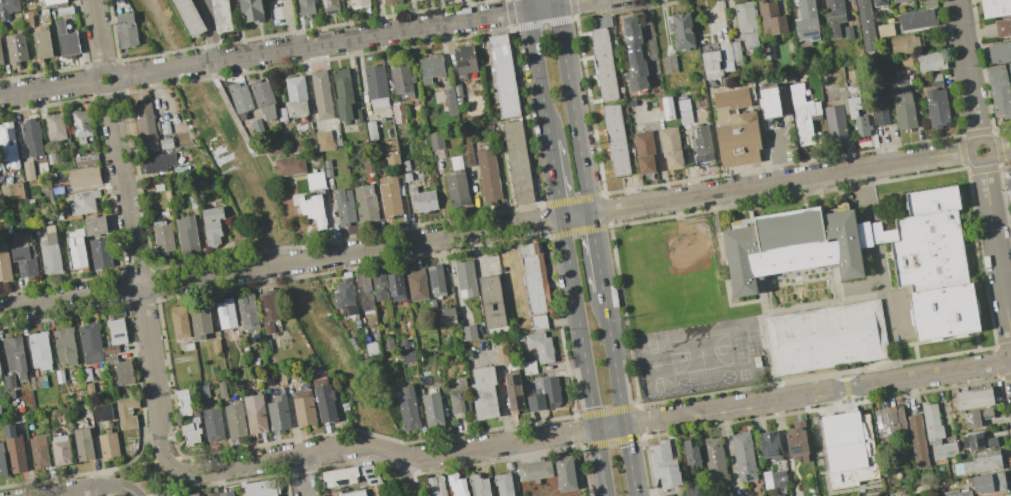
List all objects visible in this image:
building: (440, 0)
building: (926, 0)
building: (52, 1)
rooftop solar panel: (325, 1)
building: (389, 1)
building: (897, 1)
building: (358, 2)
building: (878, 2)
road: (92, 4)
building: (929, 4)
building: (330, 6)
building: (305, 7)
building: (995, 7)
building: (7, 8)
building: (250, 10)
building: (64, 11)
rooftop solar panel: (331, 11)
building: (220, 15)
building: (189, 16)
building: (833, 16)
building: (27, 18)
building: (770, 18)
building: (916, 19)
building: (806, 21)
building: (745, 23)
road: (288, 25)
building: (865, 25)
building: (1002, 27)
building: (126, 29)
road: (212, 30)
building: (680, 30)
rooftop solar panel: (810, 30)
building: (884, 30)
building: (847, 32)
rooftop solar panel: (814, 36)
road: (98, 38)
road: (353, 38)
building: (66, 40)
building: (41, 42)
building: (903, 44)
building: (15, 48)
building: (768, 51)
building: (725, 52)
building: (999, 52)
building: (735, 53)
building: (633, 54)
building: (1, 57)
building: (464, 59)
building: (602, 59)
building: (905, 61)
building: (930, 61)
building: (669, 64)
building: (710, 64)
building: (727, 65)
building: (995, 67)
building: (430, 68)
road: (966, 69)
road: (538, 70)
building: (503, 76)
building: (935, 79)
building: (1010, 81)
building: (402, 82)
building: (375, 85)
road: (114, 86)
road: (47, 89)
building: (457, 90)
building: (999, 93)
building: (343, 94)
building: (321, 95)
building: (295, 96)
building: (262, 97)
building: (239, 98)
building: (458, 100)
building: (901, 100)
building: (449, 101)
building: (768, 102)
building: (631, 103)
road: (572, 106)
building: (936, 107)
building: (667, 108)
building: (684, 109)
building: (880, 109)
building: (281, 114)
building: (398, 114)
building: (802, 114)
building: (357, 115)
building: (856, 116)
building: (835, 123)
building: (80, 125)
building: (256, 126)
building: (54, 127)
building: (146, 127)
building: (735, 128)
building: (371, 130)
rooftop solar panel: (11, 135)
building: (31, 137)
building: (323, 140)
building: (615, 140)
building: (436, 141)
building: (165, 142)
building: (701, 144)
building: (8, 145)
building: (272, 146)
building: (670, 147)
road: (1001, 147)
building: (391, 152)
building: (643, 152)
building: (467, 155)
road: (776, 155)
building: (85, 159)
building: (157, 162)
building: (517, 162)
road: (983, 162)
building: (288, 166)
building: (369, 167)
building: (327, 168)
building: (179, 169)
building: (28, 170)
building: (487, 176)
building: (83, 177)
road: (555, 179)
building: (314, 180)
road: (836, 181)
building: (456, 183)
building: (1008, 184)
building: (57, 190)
building: (11, 191)
building: (388, 196)
road: (864, 196)
building: (423, 200)
building: (30, 201)
building: (83, 201)
building: (365, 202)
building: (343, 207)
building: (1010, 208)
building: (312, 209)
building: (212, 224)
building: (93, 225)
road: (608, 226)
road: (484, 230)
building: (186, 233)
building: (872, 234)
building: (162, 238)
building: (930, 242)
building: (791, 246)
building: (75, 249)
road: (996, 250)
road: (595, 251)
building: (100, 253)
building: (50, 254)
rooftop solar panel: (18, 257)
road: (878, 257)
road: (979, 257)
building: (24, 260)
road: (724, 262)
building: (4, 263)
road: (722, 266)
rooftop solar panel: (22, 267)
building: (822, 269)
road: (1005, 271)
park: (667, 277)
road: (138, 278)
rooftop solar panel: (433, 278)
building: (533, 278)
building: (465, 279)
building: (435, 280)
road: (835, 282)
building: (416, 284)
building: (395, 286)
building: (379, 287)
road: (830, 289)
building: (364, 290)
road: (897, 291)
building: (343, 293)
road: (761, 293)
rooftop solar panel: (398, 297)
road: (848, 298)
road: (769, 300)
building: (490, 301)
building: (268, 309)
building: (943, 311)
building: (247, 312)
building: (225, 313)
building: (446, 315)
road: (623, 316)
road: (897, 319)
building: (199, 321)
building: (538, 321)
building: (179, 322)
road: (762, 326)
building: (467, 332)
building: (114, 335)
rooftop solar panel: (118, 335)
park: (752, 335)
building: (826, 338)
road: (934, 339)
park: (739, 342)
building: (90, 343)
building: (267, 344)
building: (387, 344)
building: (65, 345)
building: (215, 345)
building: (188, 346)
building: (540, 346)
building: (371, 348)
park: (750, 348)
road: (977, 349)
building: (39, 350)
road: (766, 352)
building: (500, 353)
park: (700, 353)
building: (14, 356)
road: (583, 356)
building: (407, 357)
park: (741, 357)
road: (612, 358)
building: (110, 359)
road: (916, 359)
road: (896, 361)
park: (654, 365)
building: (528, 367)
building: (0, 371)
building: (123, 373)
park: (743, 373)
building: (86, 374)
building: (59, 376)
park: (727, 376)
building: (280, 378)
building: (8, 381)
building: (42, 381)
park: (682, 383)
building: (89, 388)
building: (221, 390)
building: (549, 390)
building: (201, 391)
building: (513, 391)
road: (847, 391)
building: (483, 392)
building: (1, 394)
building: (458, 397)
building: (974, 397)
building: (323, 399)
building: (183, 402)
building: (534, 402)
building: (303, 407)
road: (636, 407)
building: (408, 409)
building: (433, 410)
building: (102, 412)
building: (126, 412)
building: (254, 413)
building: (278, 413)
rooftop solar panel: (886, 415)
building: (975, 417)
rooftop solar panel: (878, 418)
building: (234, 420)
building: (889, 420)
building: (212, 424)
traffic signals: (624, 425)
road: (602, 428)
rooftop solar panel: (890, 429)
building: (190, 430)
traffic signals: (596, 430)
building: (935, 432)
building: (796, 440)
building: (842, 441)
building: (917, 441)
building: (977, 441)
building: (82, 444)
building: (771, 445)
building: (108, 446)
building: (14, 449)
building: (60, 450)
building: (38, 451)
building: (690, 453)
building: (743, 456)
building: (714, 459)
road: (629, 460)
building: (983, 461)
building: (2, 464)
building: (663, 464)
road: (117, 468)
road: (179, 470)
building: (534, 471)
building: (564, 473)
building: (369, 474)
road: (301, 475)
building: (339, 476)
road: (405, 476)
road: (147, 477)
building: (778, 478)
building: (988, 482)
building: (504, 484)
road: (108, 486)
building: (437, 486)
building: (457, 486)
building: (480, 486)
building: (261, 488)
road: (178, 489)
building: (691, 489)
road: (66, 492)
road: (130, 493)
building: (223, 493)
building: (350, 493)
building: (957, 493)
building: (192, 495)
building: (747, 495)
building: (779, 495)
building: (872, 495)
building: (1006, 495)

